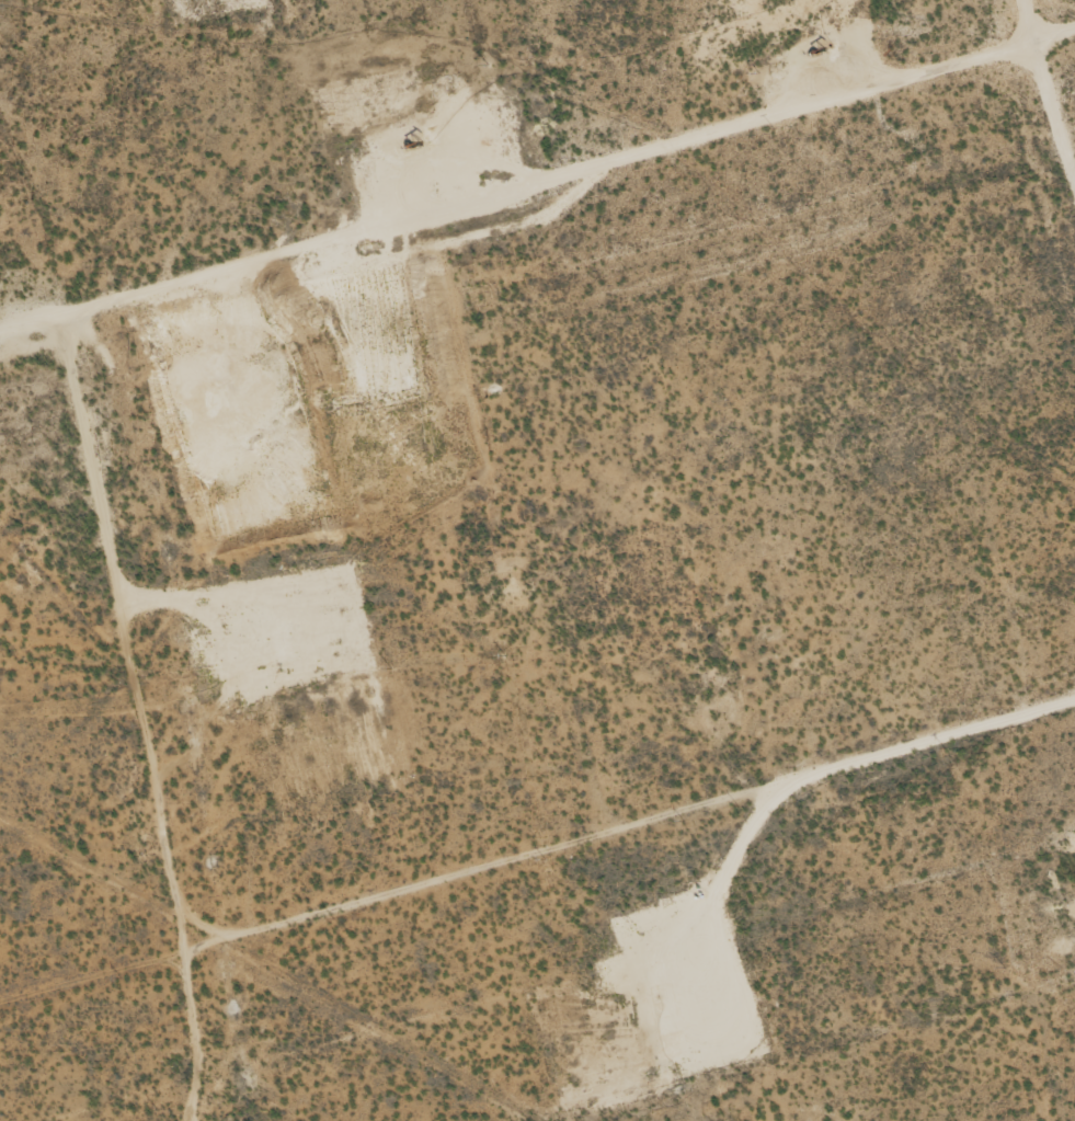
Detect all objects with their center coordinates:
road: (537, 222)
road: (1010, 235)

